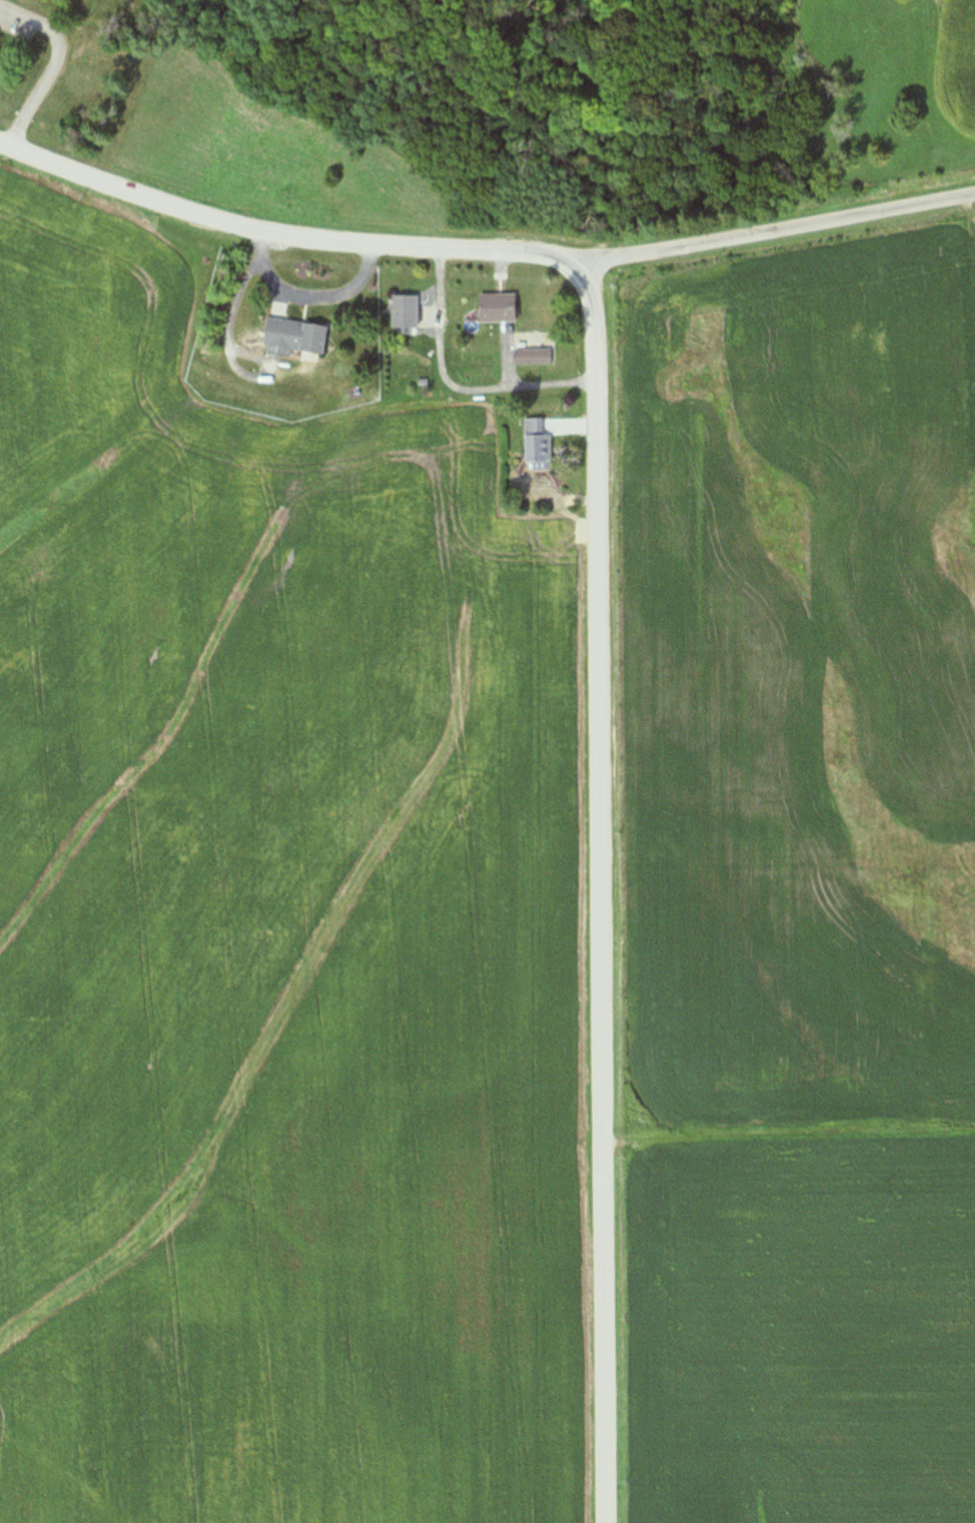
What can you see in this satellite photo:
road: (64, 1)
parking lot: (17, 24)
road: (357, 49)
road: (51, 65)
road: (505, 88)
road: (774, 232)
road: (319, 299)
building: (495, 308)
building: (403, 312)
road: (505, 320)
building: (291, 337)
road: (228, 344)
building: (531, 357)
building: (421, 382)
road: (453, 387)
building: (536, 445)
road: (598, 597)

